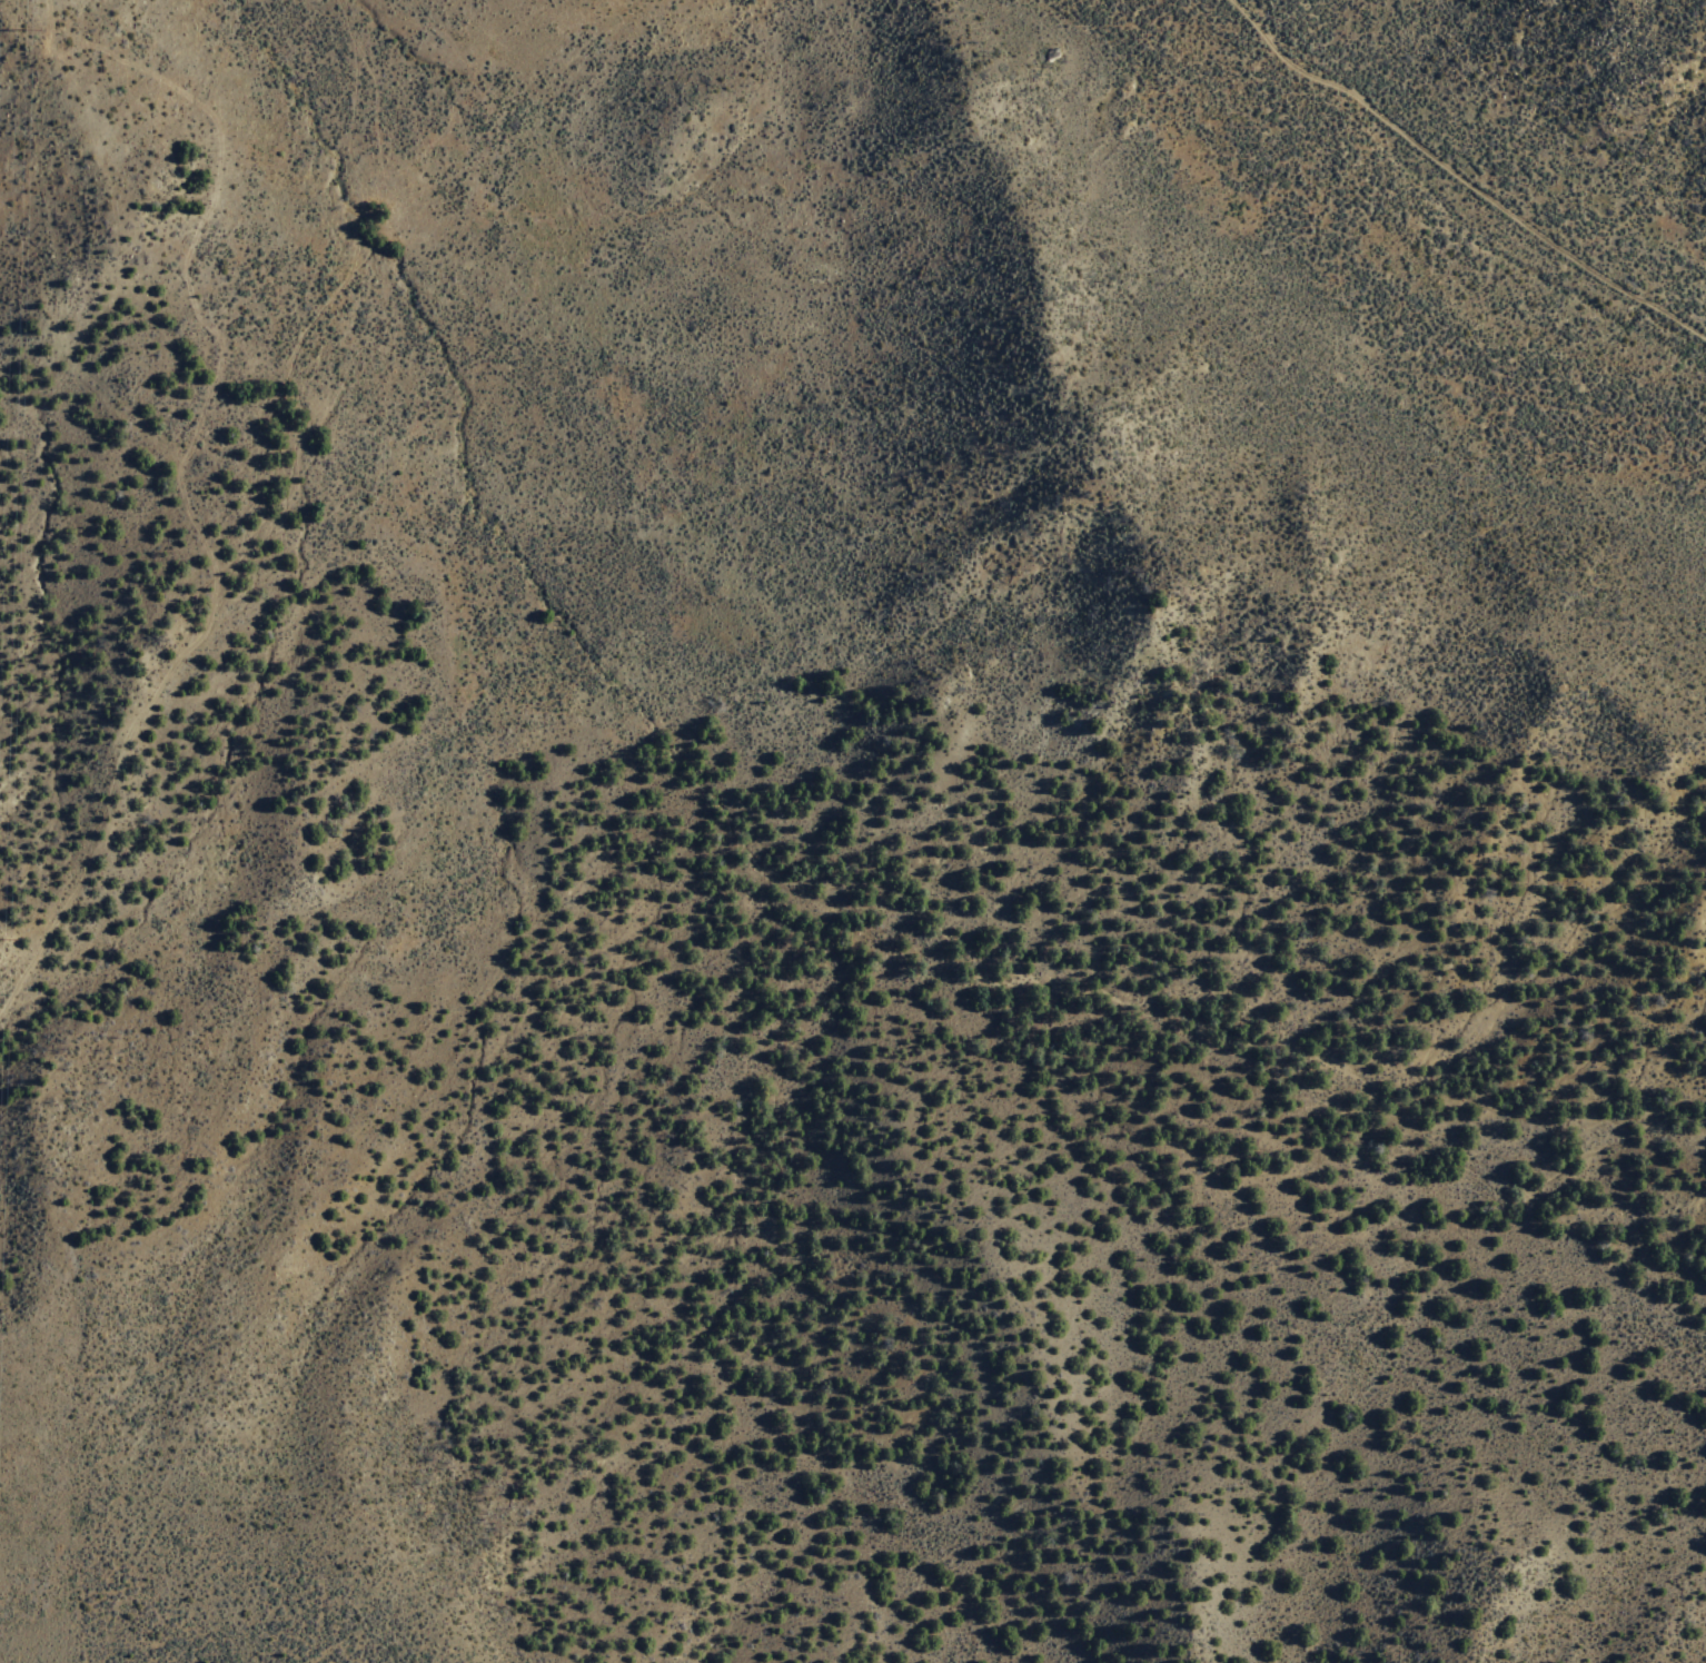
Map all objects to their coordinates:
power tower: (9, 33)
road: (1460, 178)
crop: (1393, 316)
crop: (530, 493)

